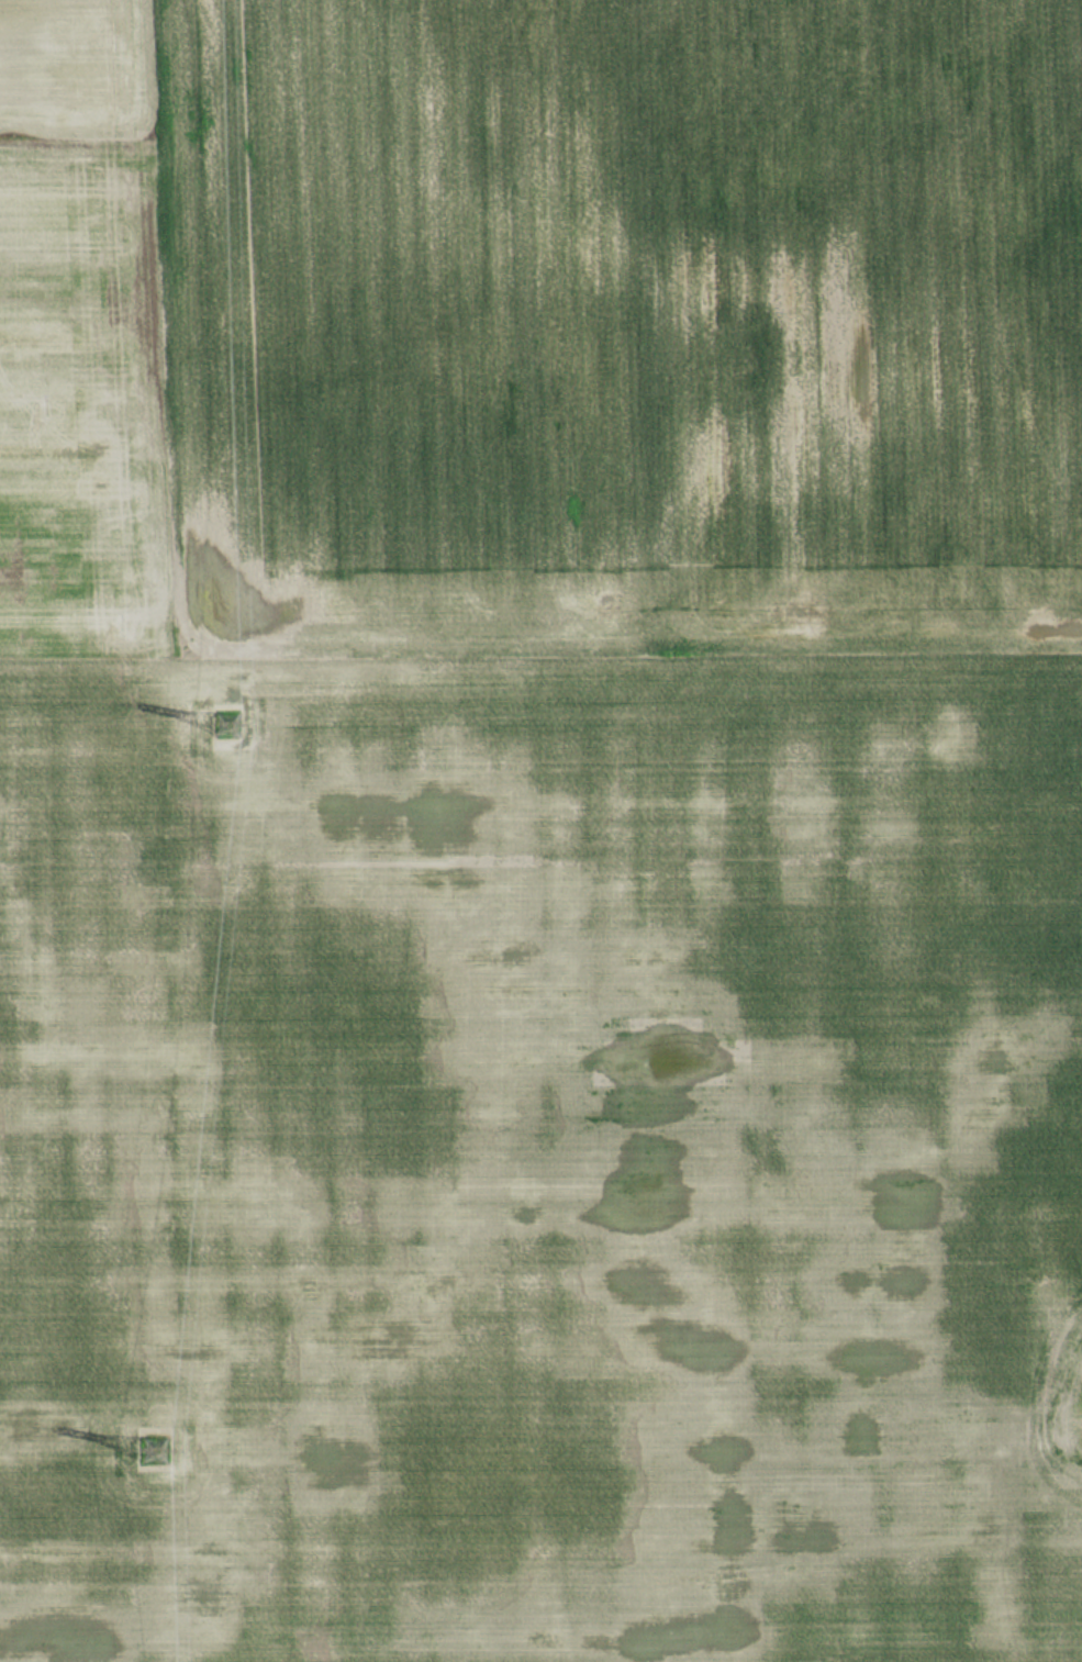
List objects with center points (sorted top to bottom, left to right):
crop: (538, 324)
power tower: (219, 720)
crop: (538, 1152)
power tower: (153, 1453)

